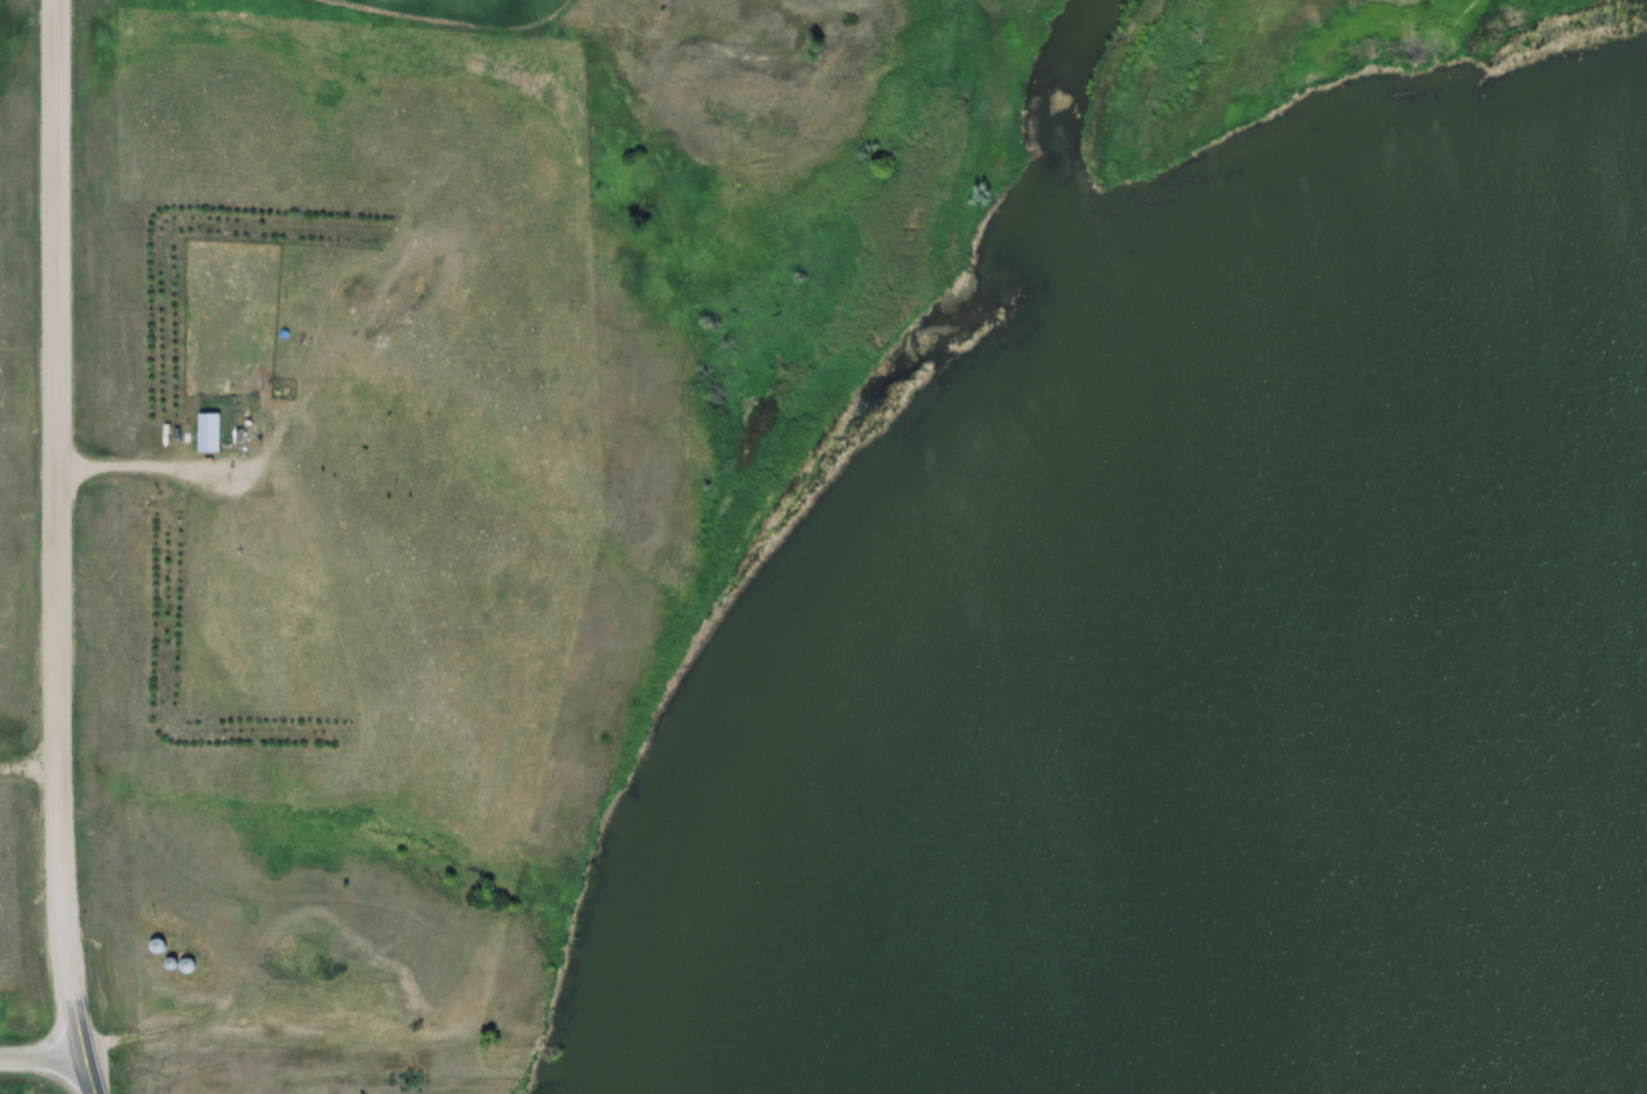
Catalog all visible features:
building: (211, 432)
road: (57, 532)
road: (40, 1060)
road: (85, 1078)

